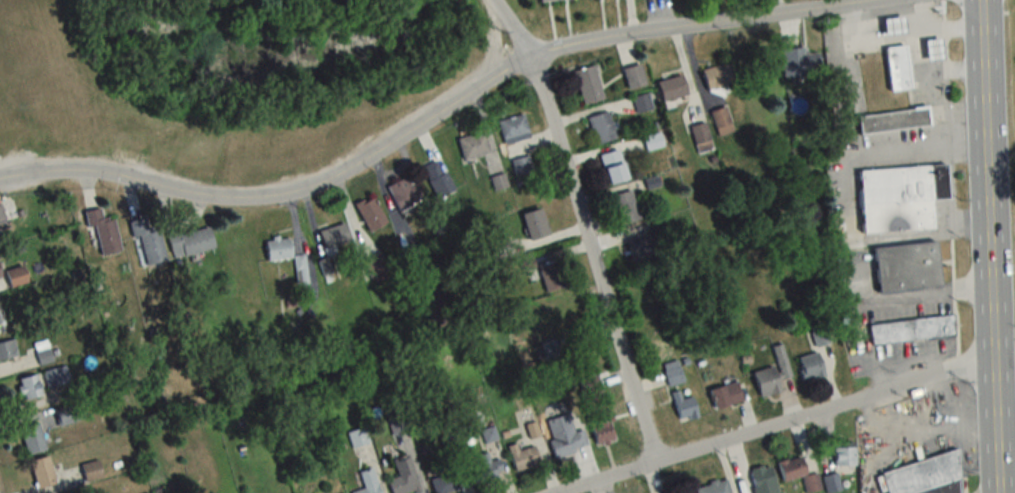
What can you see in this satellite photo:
building: (547, 0)
road: (863, 1)
building: (894, 25)
building: (933, 48)
building: (799, 61)
building: (752, 63)
building: (897, 67)
building: (718, 75)
building: (634, 77)
building: (588, 84)
building: (672, 88)
building: (642, 103)
road: (436, 116)
building: (721, 120)
building: (893, 120)
building: (601, 127)
building: (513, 128)
building: (701, 137)
building: (652, 142)
building: (474, 145)
building: (522, 165)
building: (613, 166)
building: (439, 178)
road: (949, 183)
building: (405, 193)
building: (901, 197)
building: (626, 207)
building: (372, 213)
building: (1, 216)
building: (535, 224)
road: (581, 226)
building: (102, 230)
building: (335, 234)
building: (148, 240)
building: (191, 241)
building: (643, 246)
road: (987, 246)
building: (279, 248)
building: (326, 266)
building: (380, 266)
building: (907, 267)
building: (301, 269)
building: (0, 275)
building: (17, 276)
building: (551, 276)
building: (912, 330)
building: (819, 334)
building: (550, 349)
building: (8, 350)
building: (43, 353)
building: (811, 366)
building: (674, 372)
building: (772, 373)
building: (56, 377)
building: (29, 387)
building: (726, 394)
building: (685, 406)
building: (598, 410)
building: (69, 414)
building: (398, 424)
road: (777, 425)
building: (489, 434)
building: (565, 436)
building: (358, 437)
building: (32, 438)
building: (523, 456)
building: (844, 456)
building: (485, 466)
building: (43, 472)
building: (799, 473)
building: (405, 477)
building: (923, 477)
building: (763, 479)
building: (369, 482)
building: (446, 482)
building: (831, 482)
building: (714, 488)
building: (690, 492)

